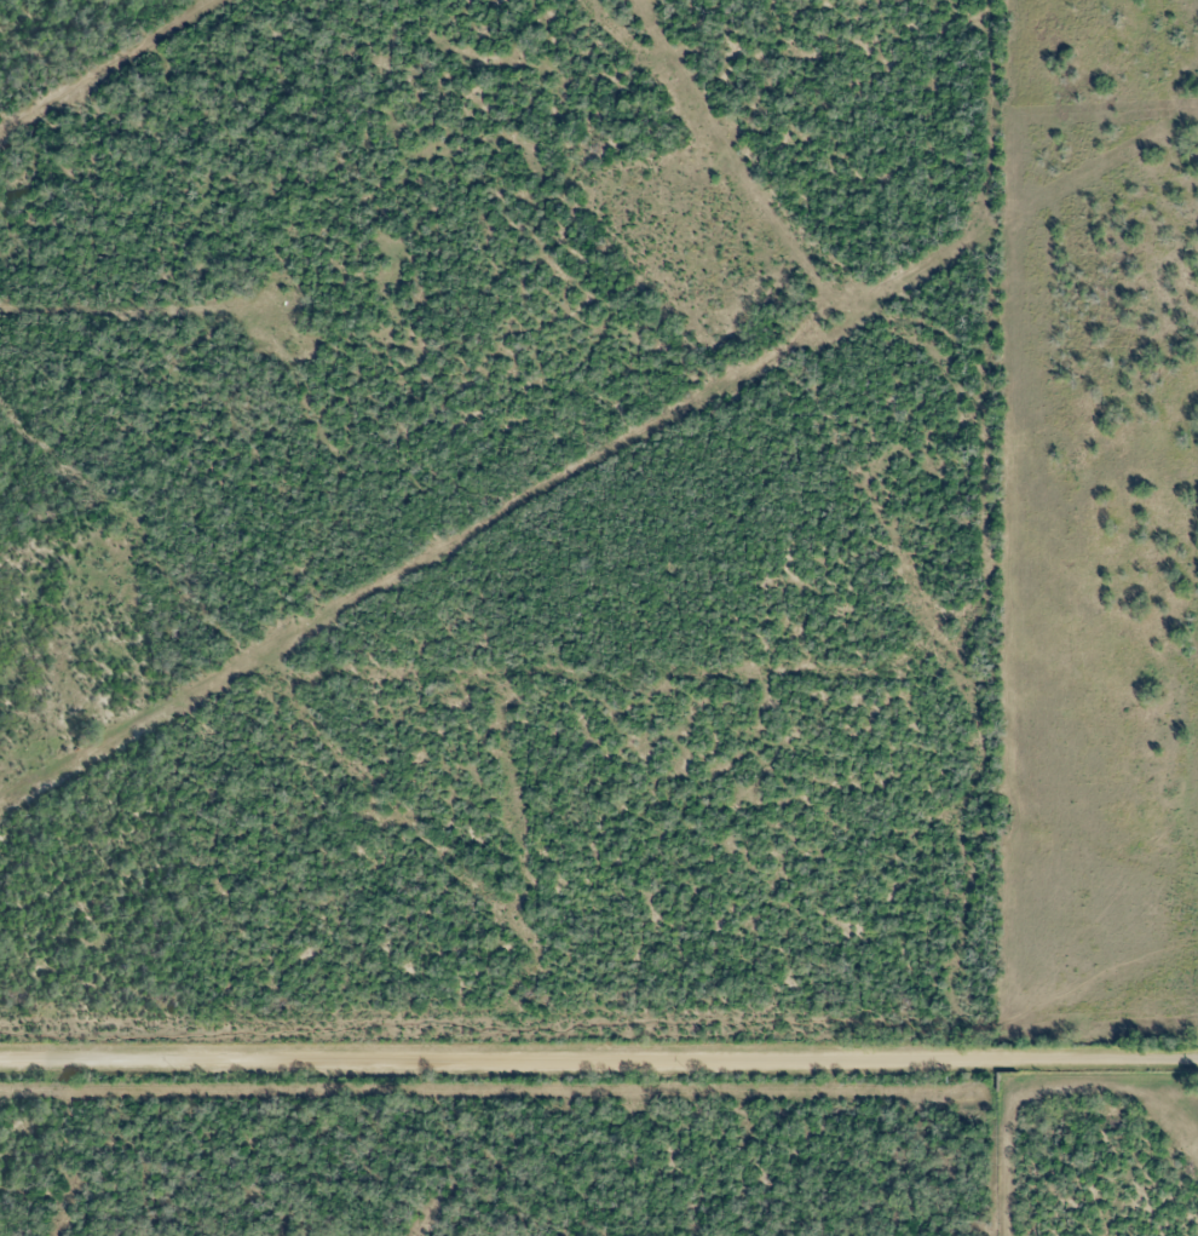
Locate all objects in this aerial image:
road: (599, 1052)

